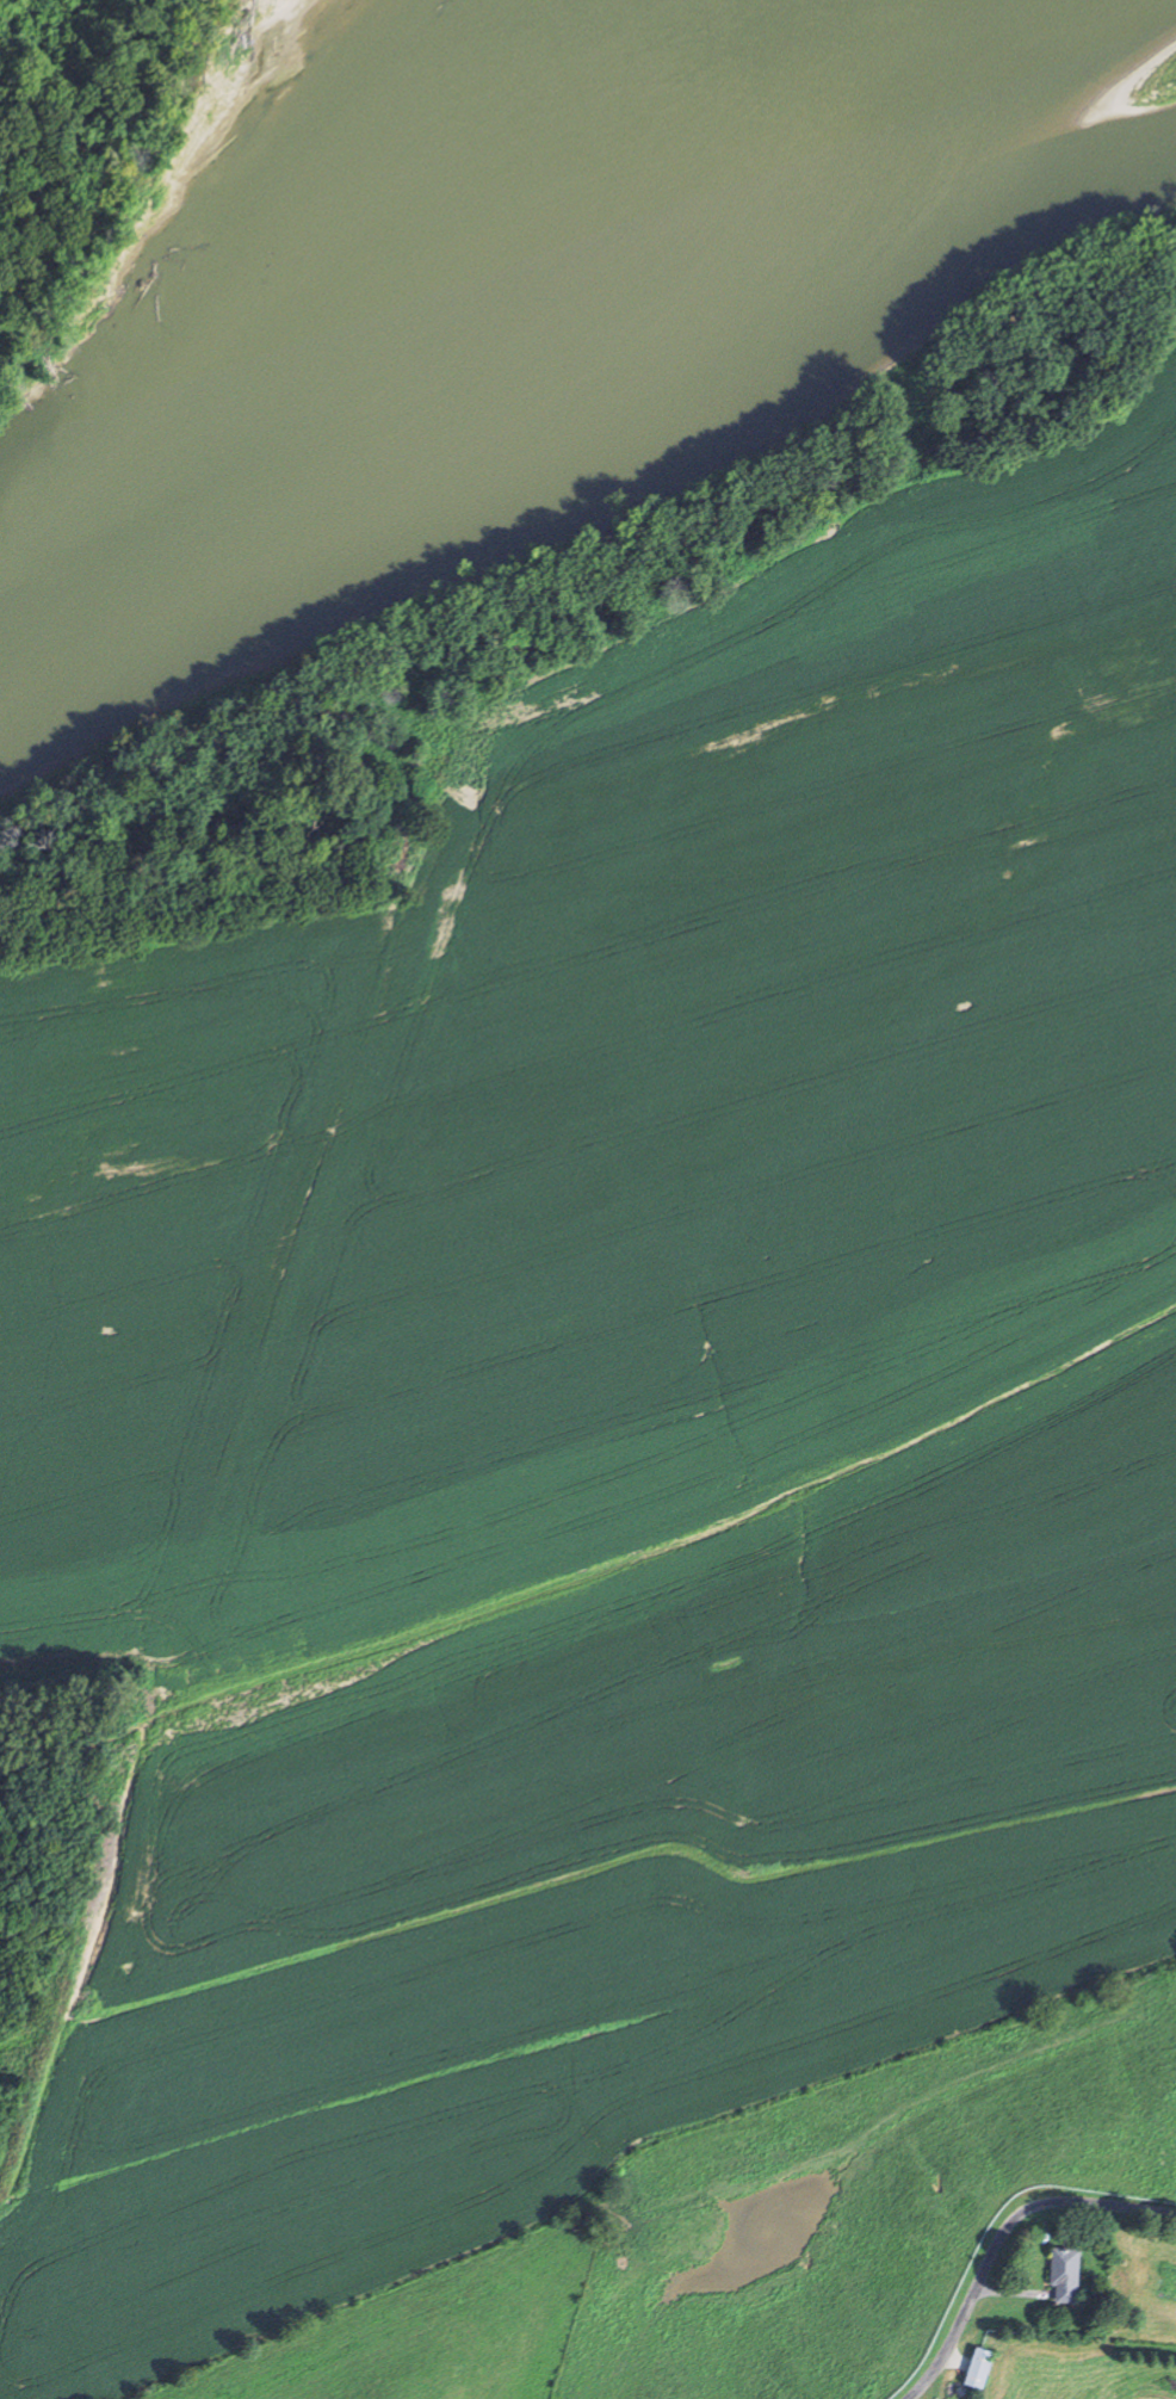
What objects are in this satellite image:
road: (1005, 2239)

